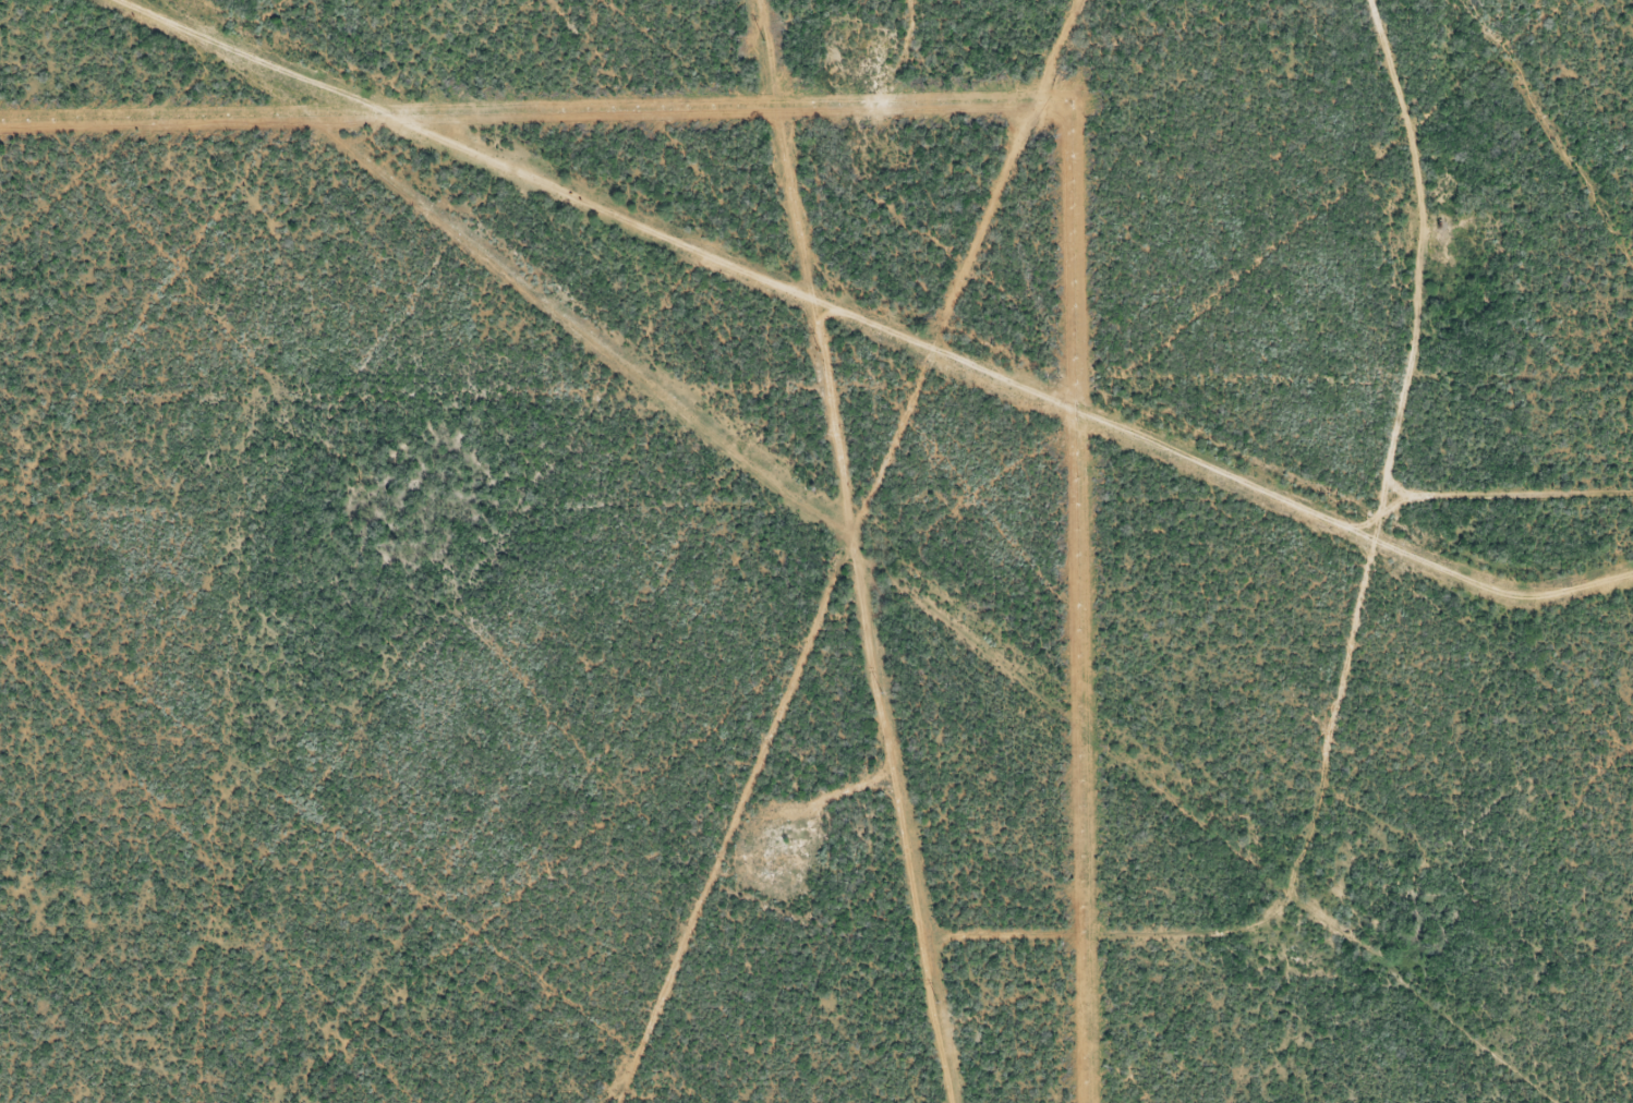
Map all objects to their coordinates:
power tower: (764, 40)
power tower: (820, 349)
power tower: (882, 691)
power tower: (938, 1001)

